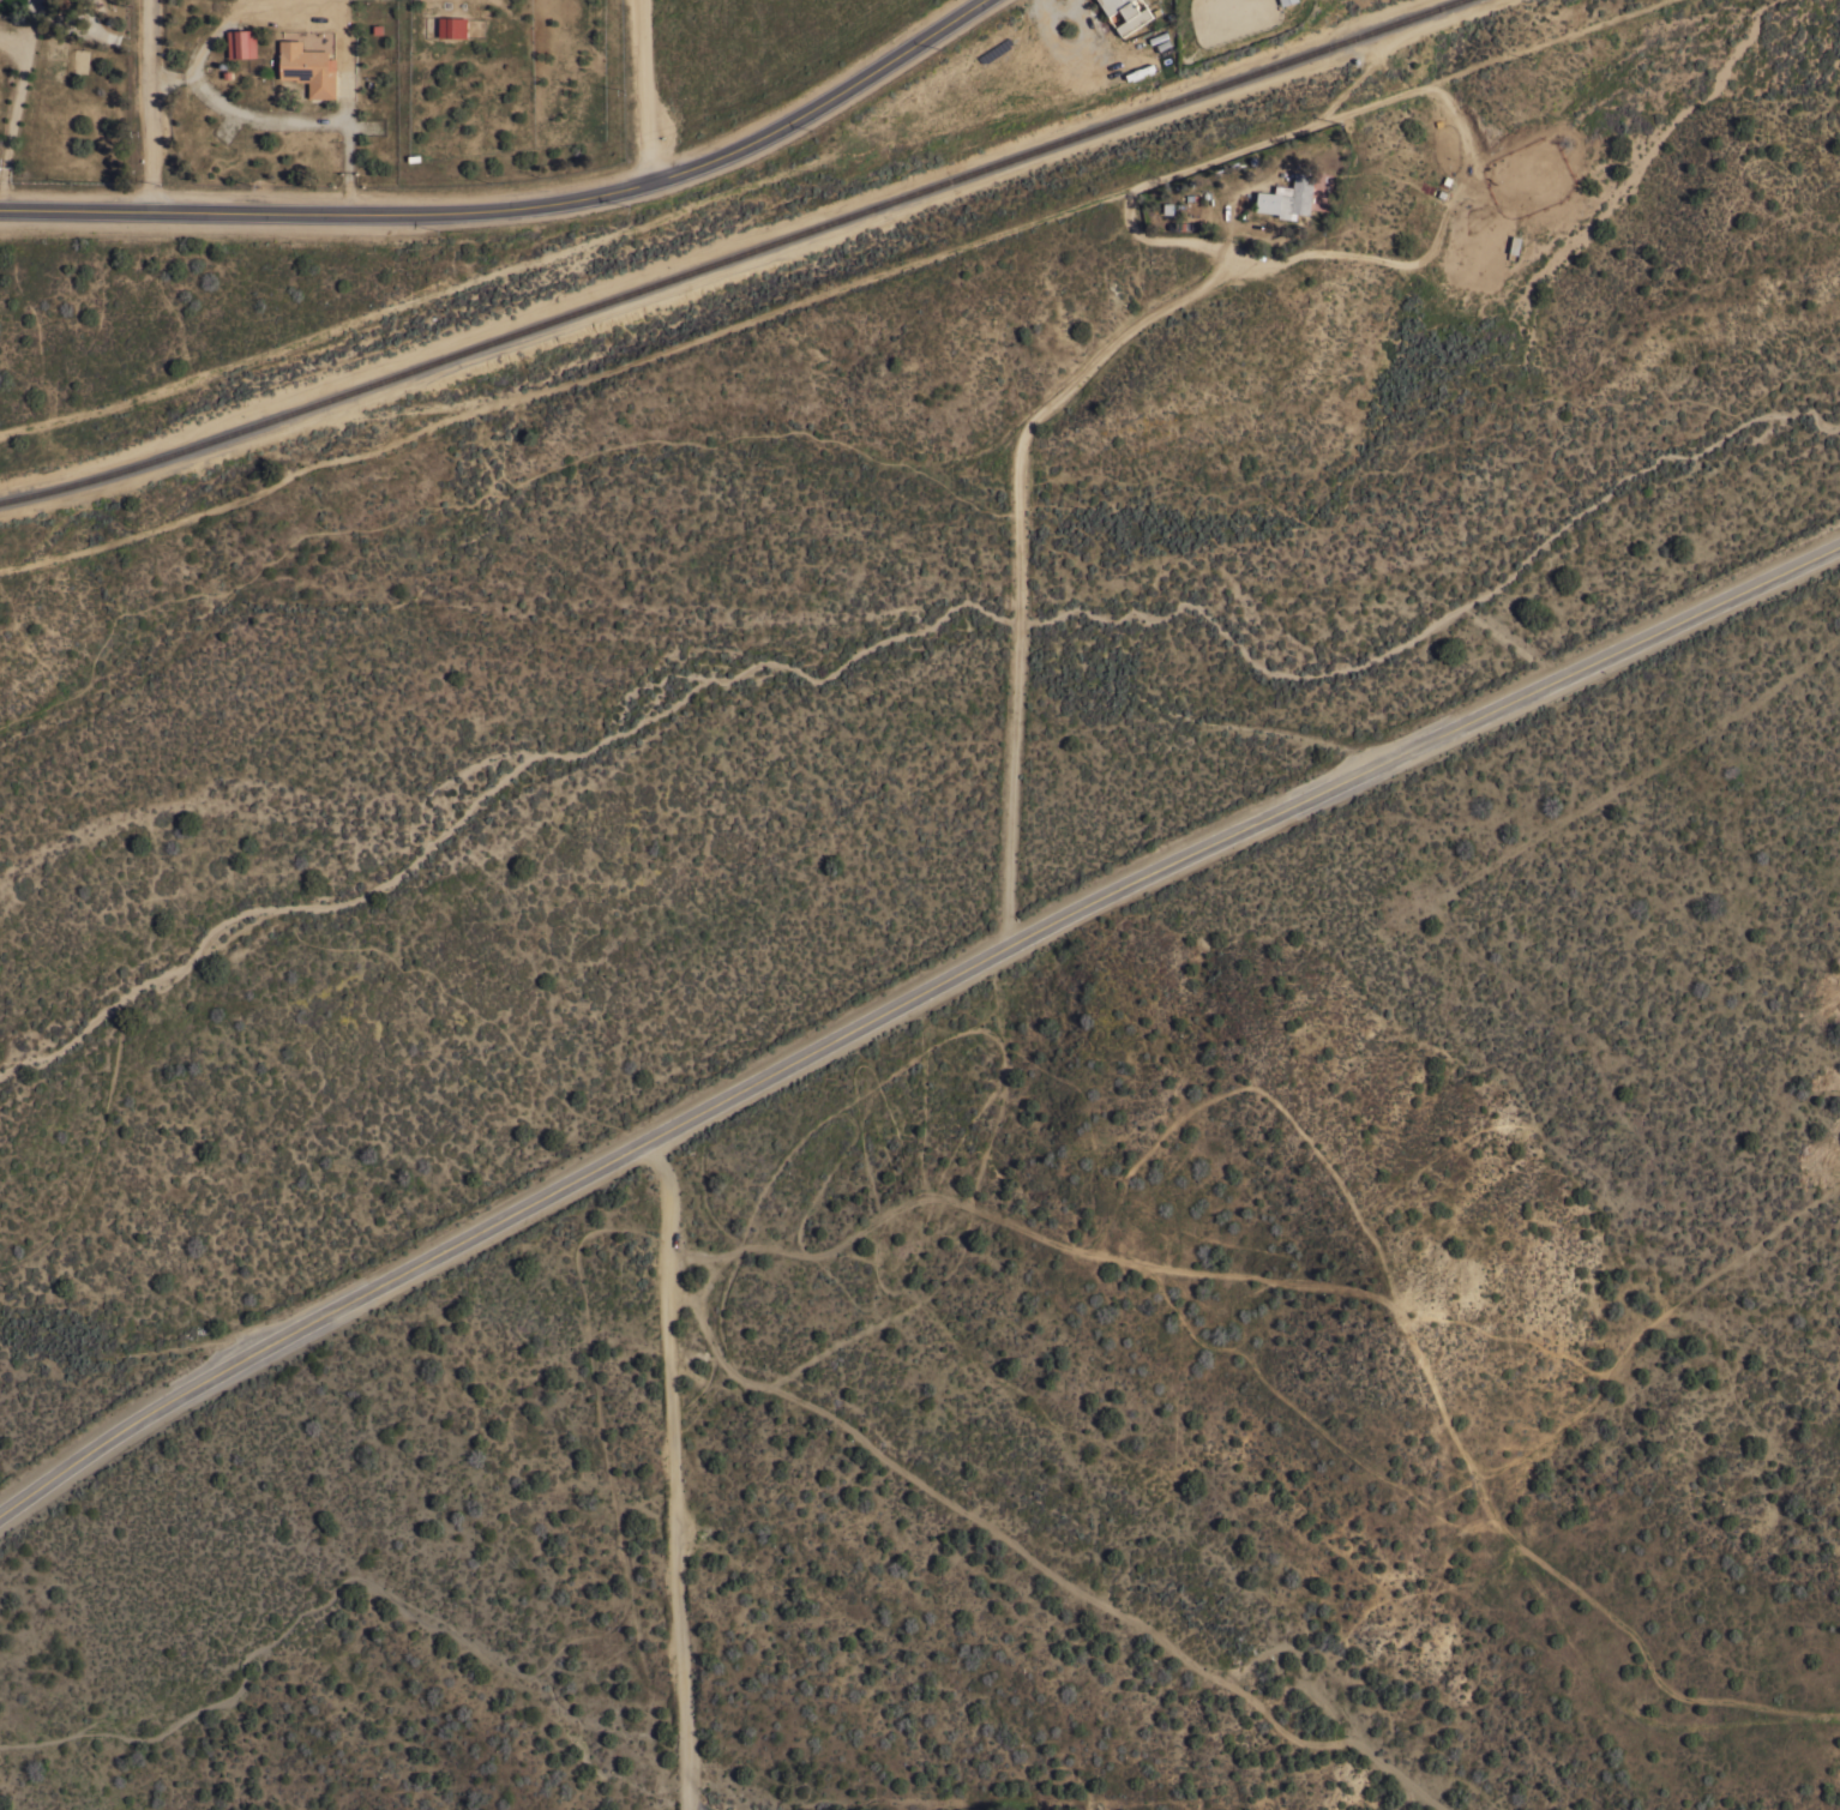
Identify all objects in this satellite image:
building: (1285, 1)
building: (1126, 13)
building: (452, 28)
building: (241, 43)
building: (307, 67)
road: (647, 90)
road: (16, 104)
road: (144, 106)
road: (240, 112)
road: (347, 149)
building: (1288, 196)
road: (517, 210)
railway: (738, 257)
road: (1017, 547)
road: (903, 1002)
road: (674, 1472)
road: (686, 1806)

